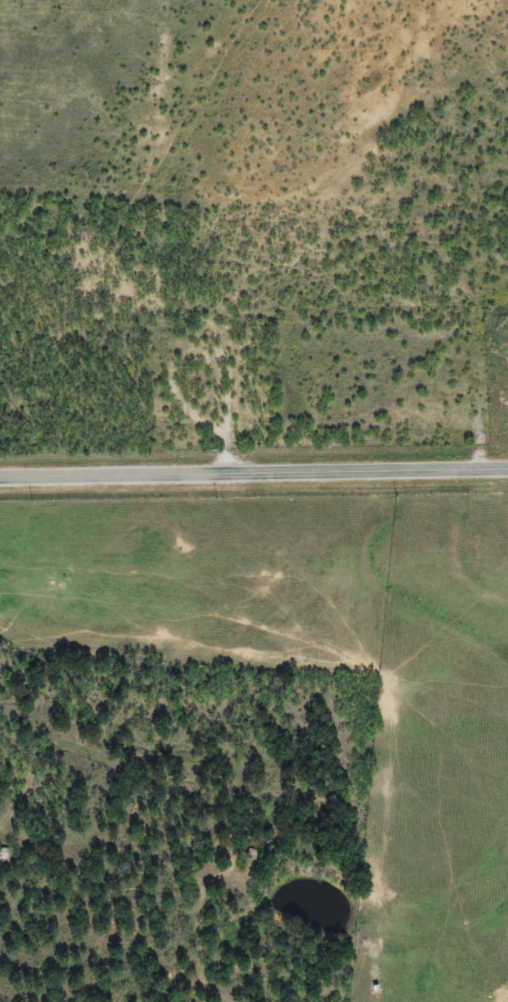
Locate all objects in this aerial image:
road: (254, 474)

